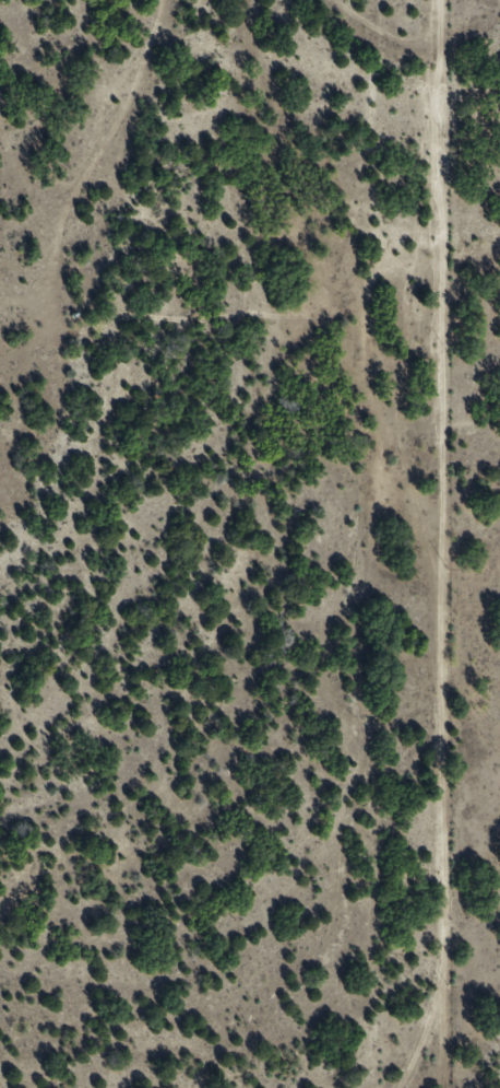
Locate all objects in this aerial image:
road: (462, 132)
road: (390, 538)

